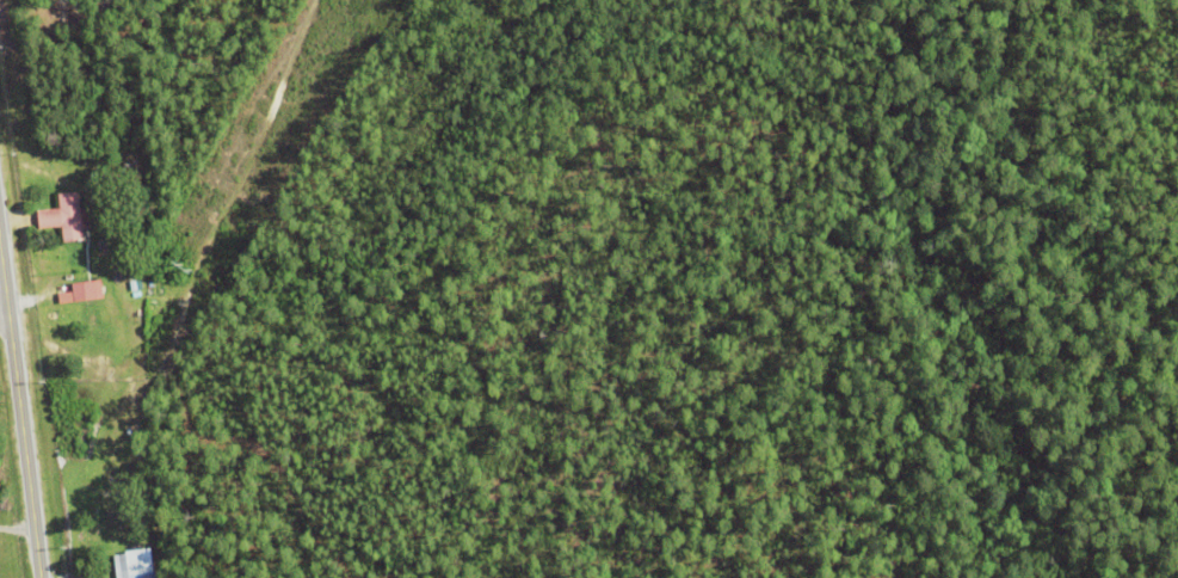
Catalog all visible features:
building: (66, 216)
building: (86, 289)
road: (6, 333)
road: (20, 408)
road: (17, 529)
building: (134, 564)

